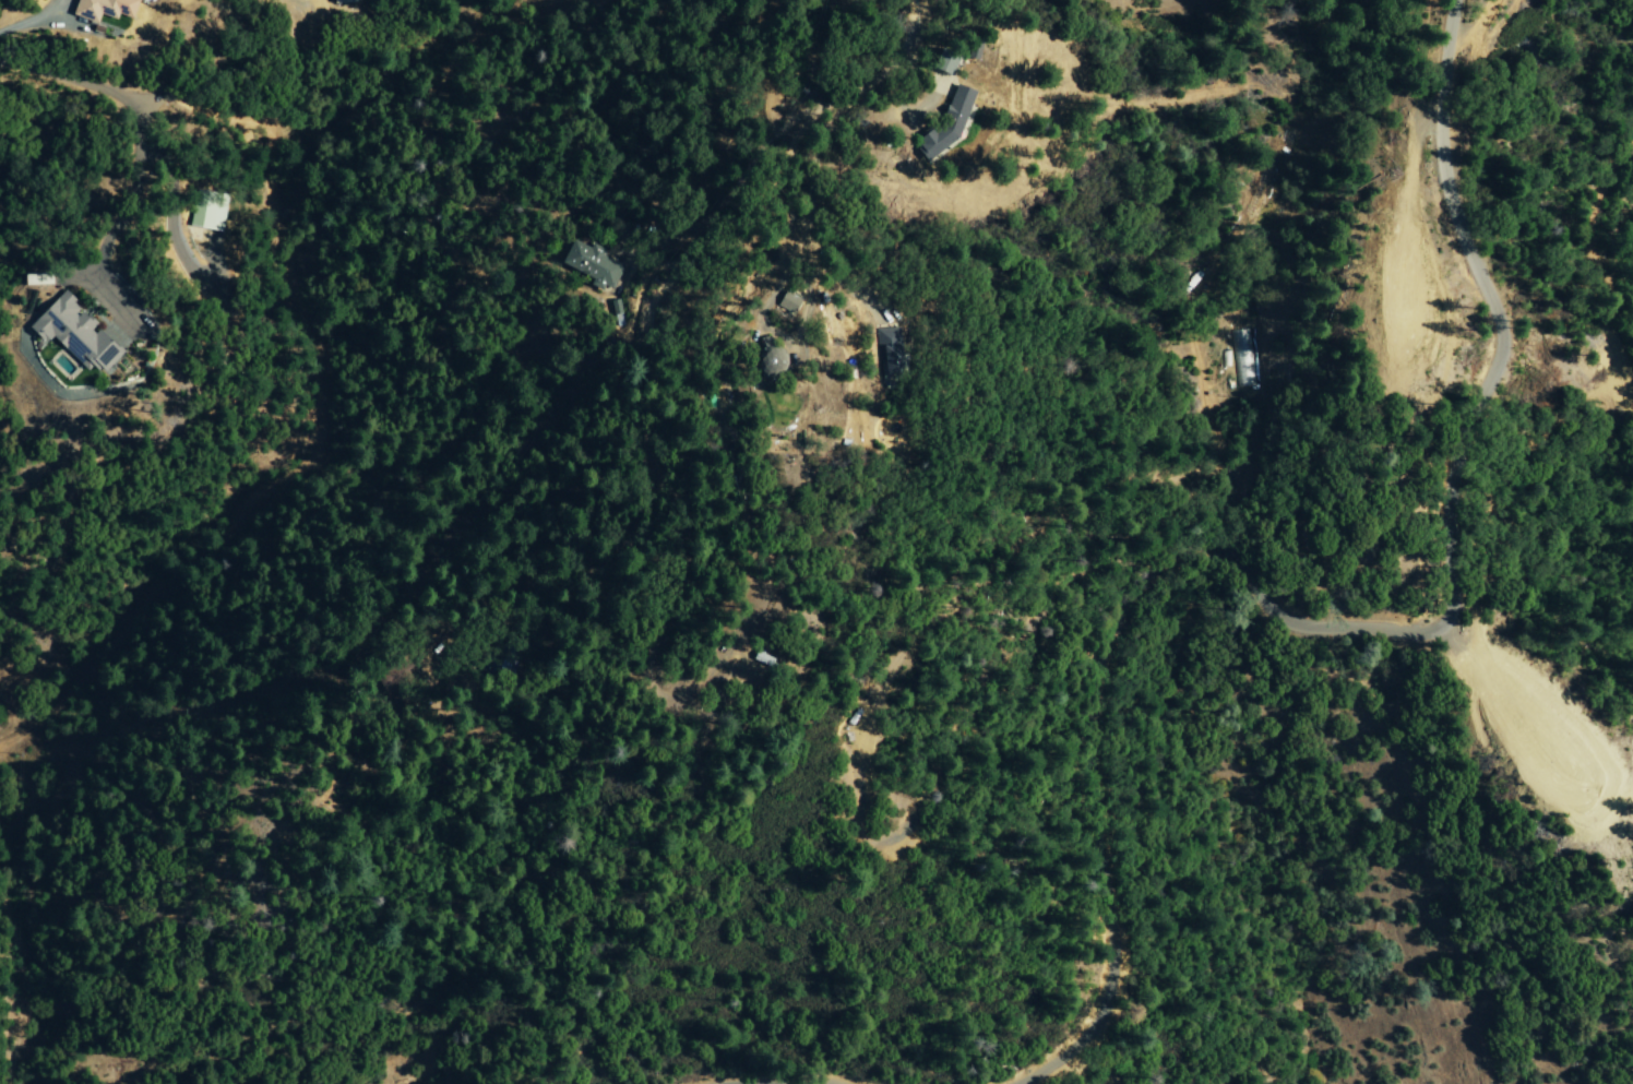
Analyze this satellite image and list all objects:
building: (102, 9)
road: (34, 19)
building: (942, 61)
road: (880, 78)
road: (136, 123)
building: (207, 211)
building: (592, 264)
building: (786, 303)
building: (70, 335)
building: (890, 350)
building: (1243, 358)
building: (768, 361)
road: (1326, 623)

